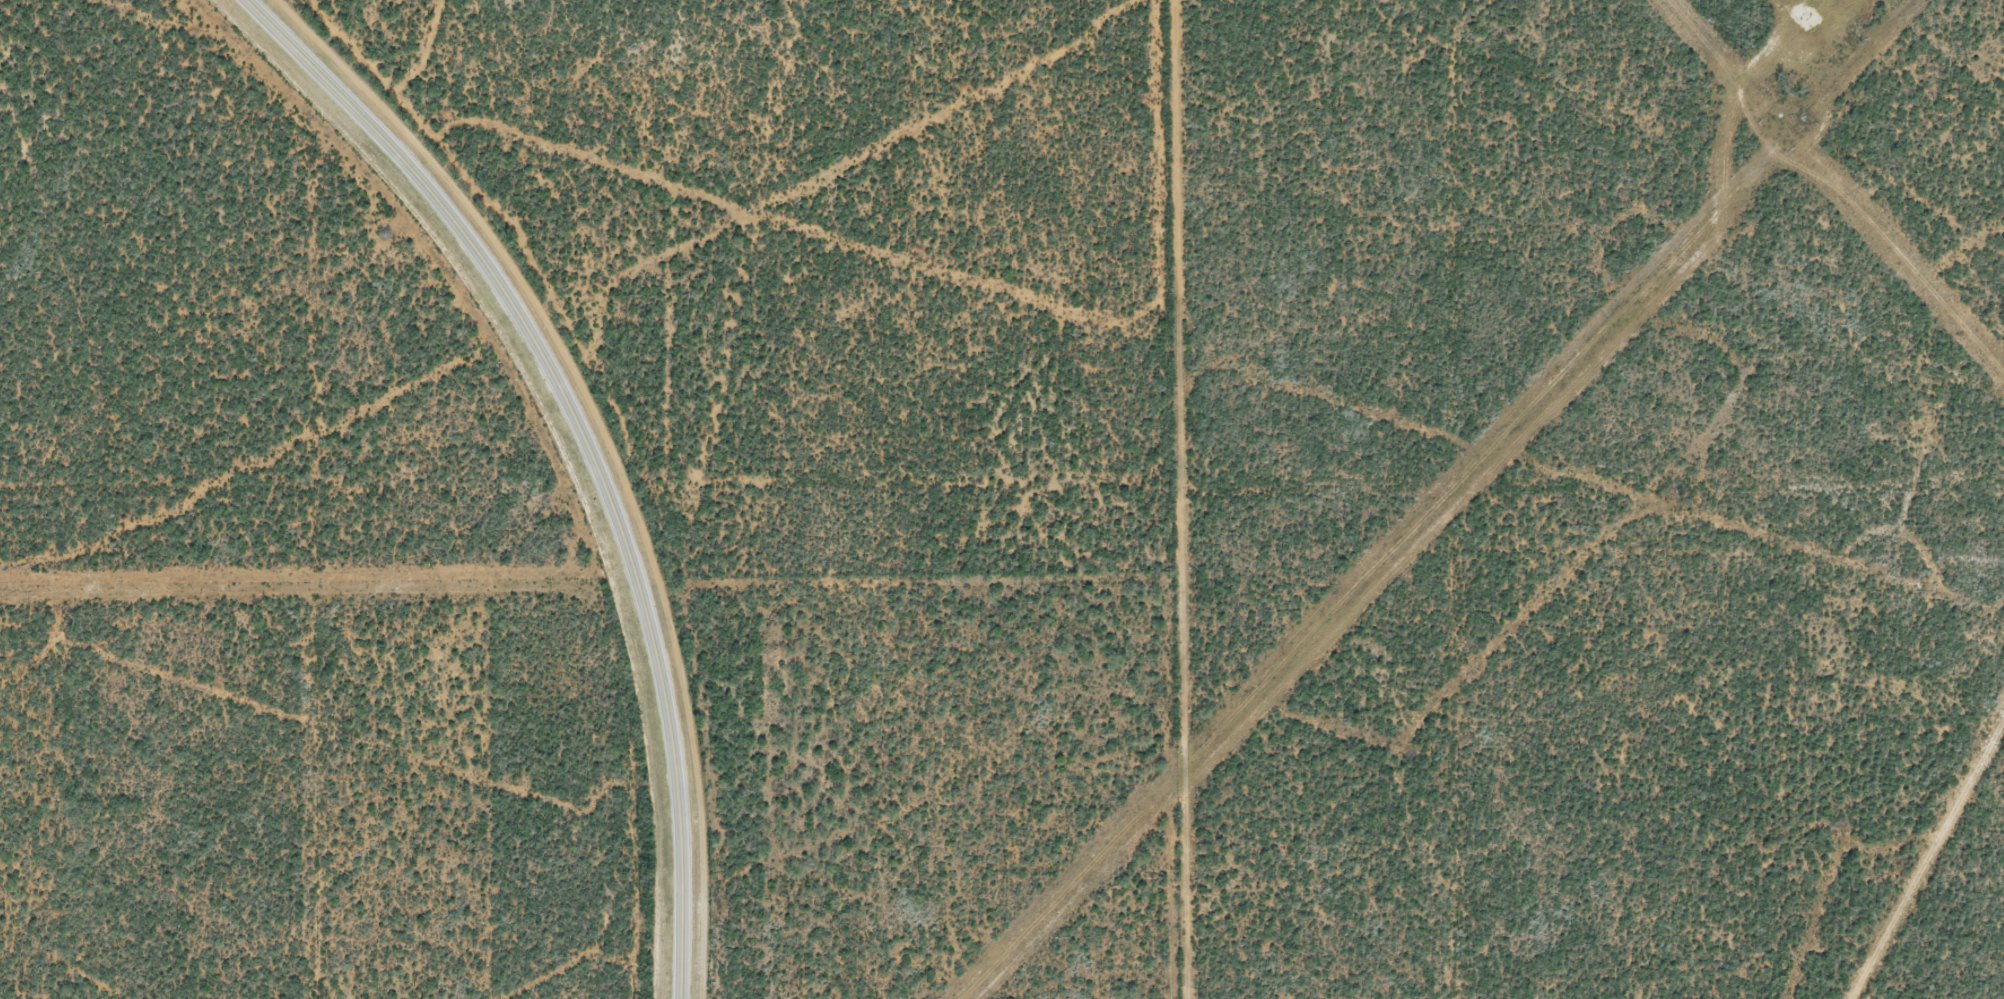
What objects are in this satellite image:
road: (590, 444)

